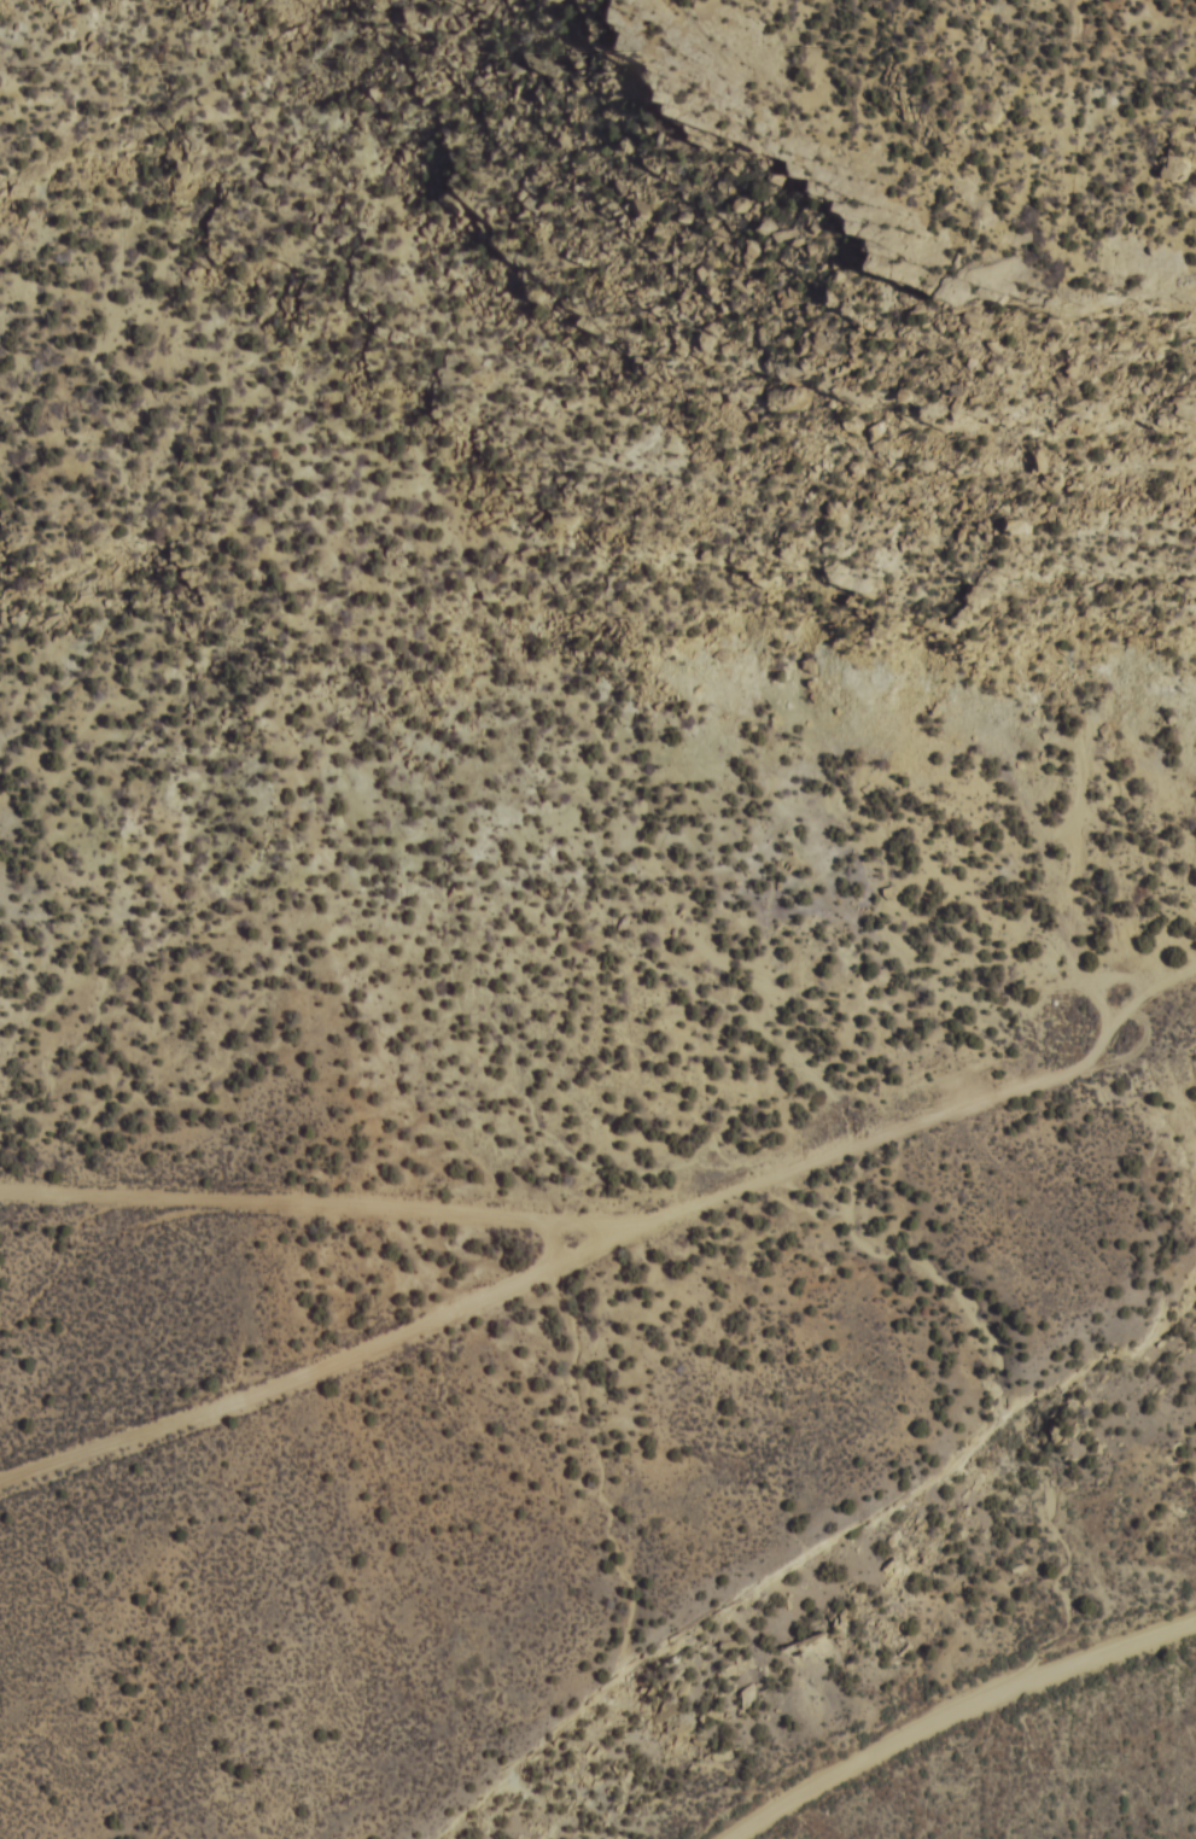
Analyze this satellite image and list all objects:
road: (888, 1137)
road: (593, 1220)
road: (556, 1262)
road: (956, 1714)
road: (1192, 1729)

